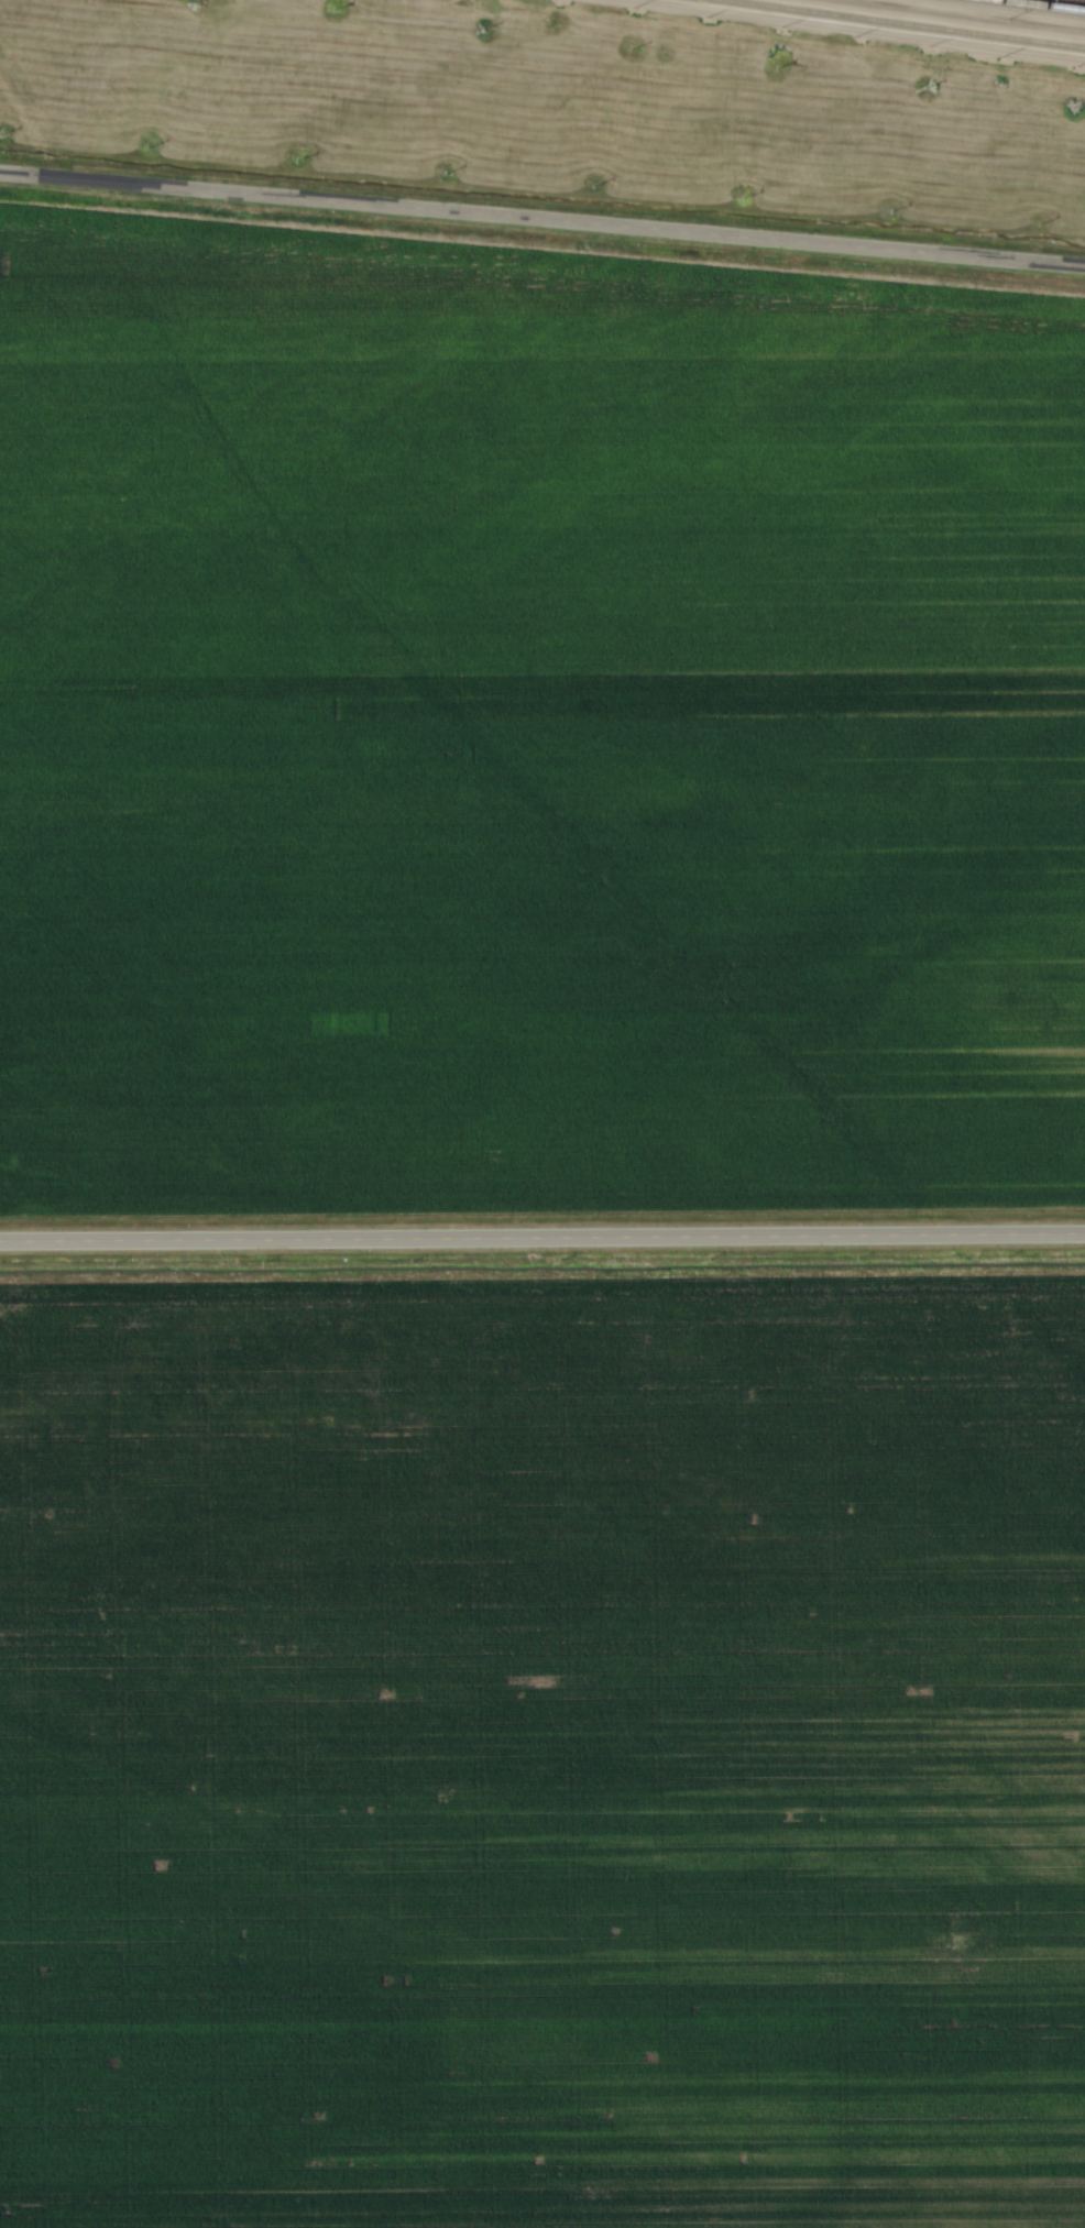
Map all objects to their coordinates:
railway: (1052, 3)
railway: (903, 23)
road: (853, 30)
road: (541, 222)
road: (542, 1236)
crop: (542, 1739)

